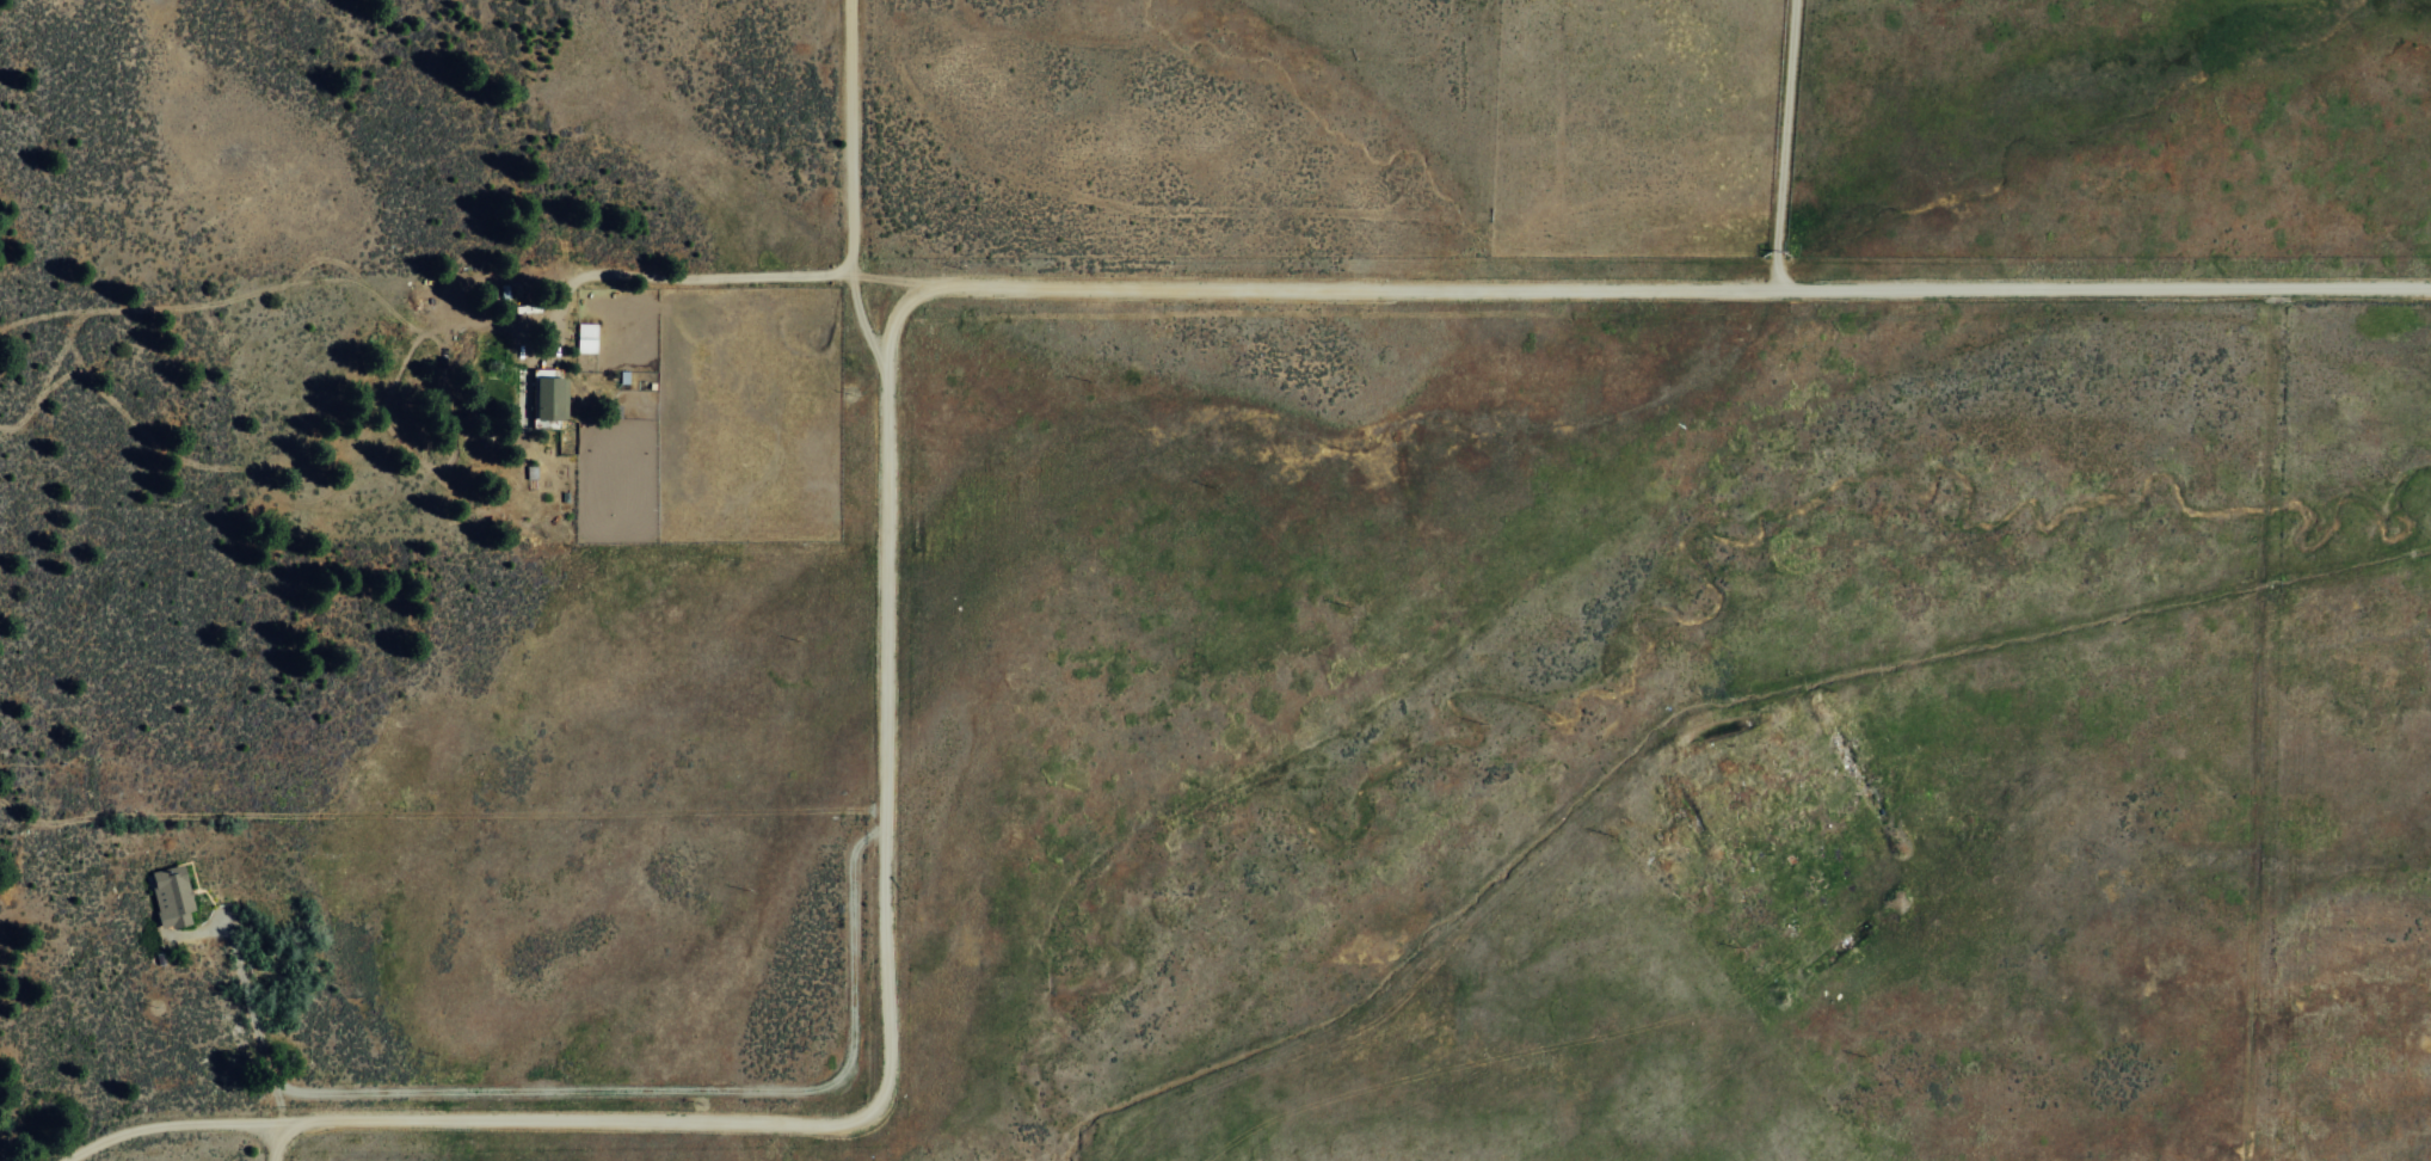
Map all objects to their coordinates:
road: (1674, 285)
building: (548, 398)
road: (880, 522)
crop: (1820, 537)
building: (168, 896)
road: (462, 1123)
road: (270, 1143)

